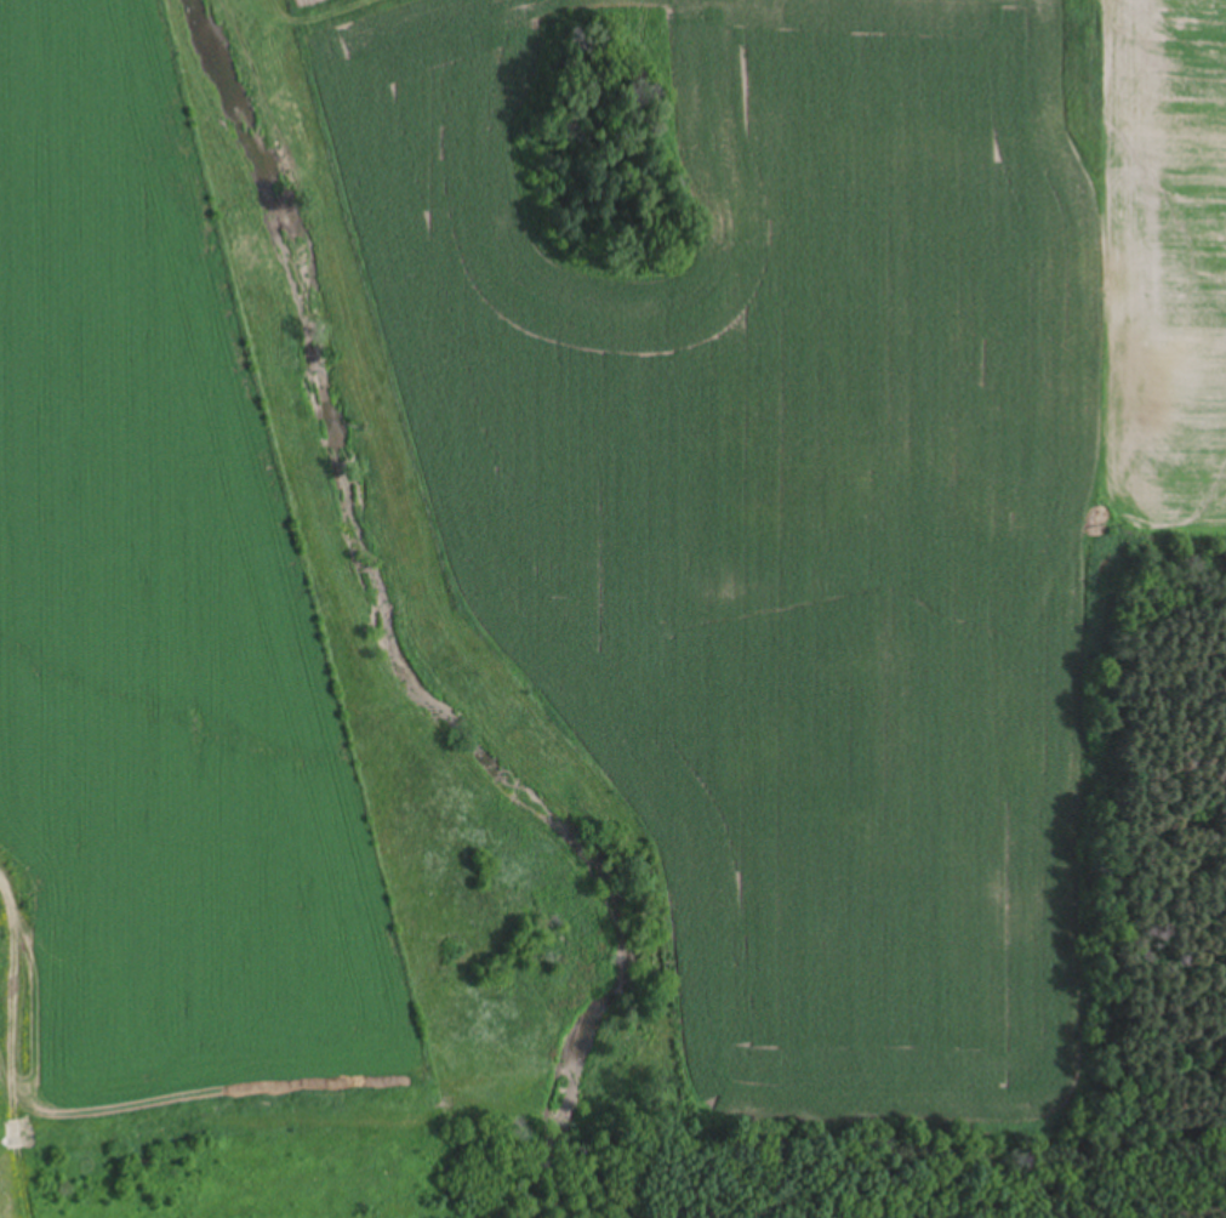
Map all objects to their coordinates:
crop: (816, 472)
river: (378, 554)
crop: (173, 713)
building: (585, 715)
river: (604, 1125)

